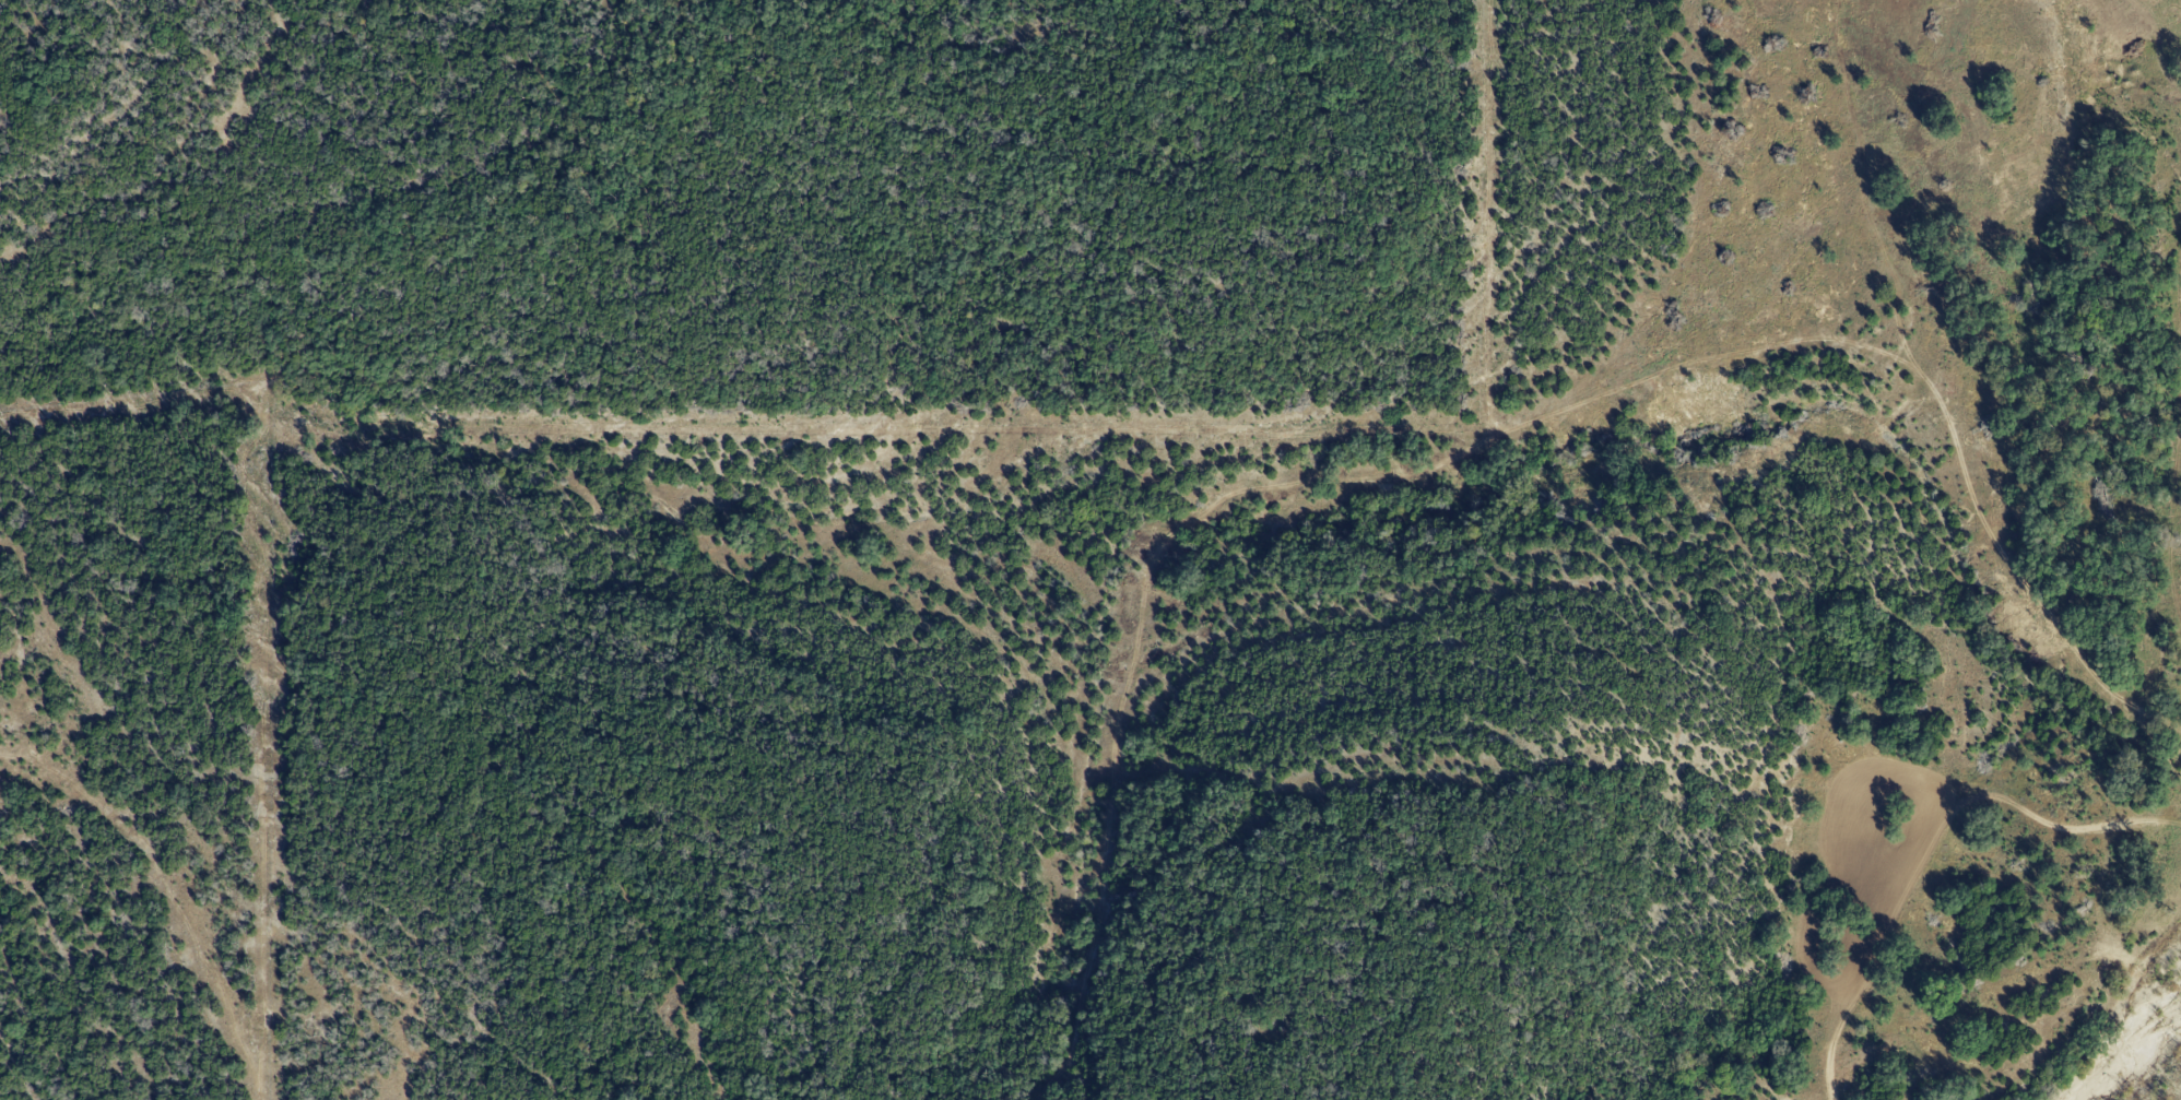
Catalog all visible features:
river: (2160, 1075)

